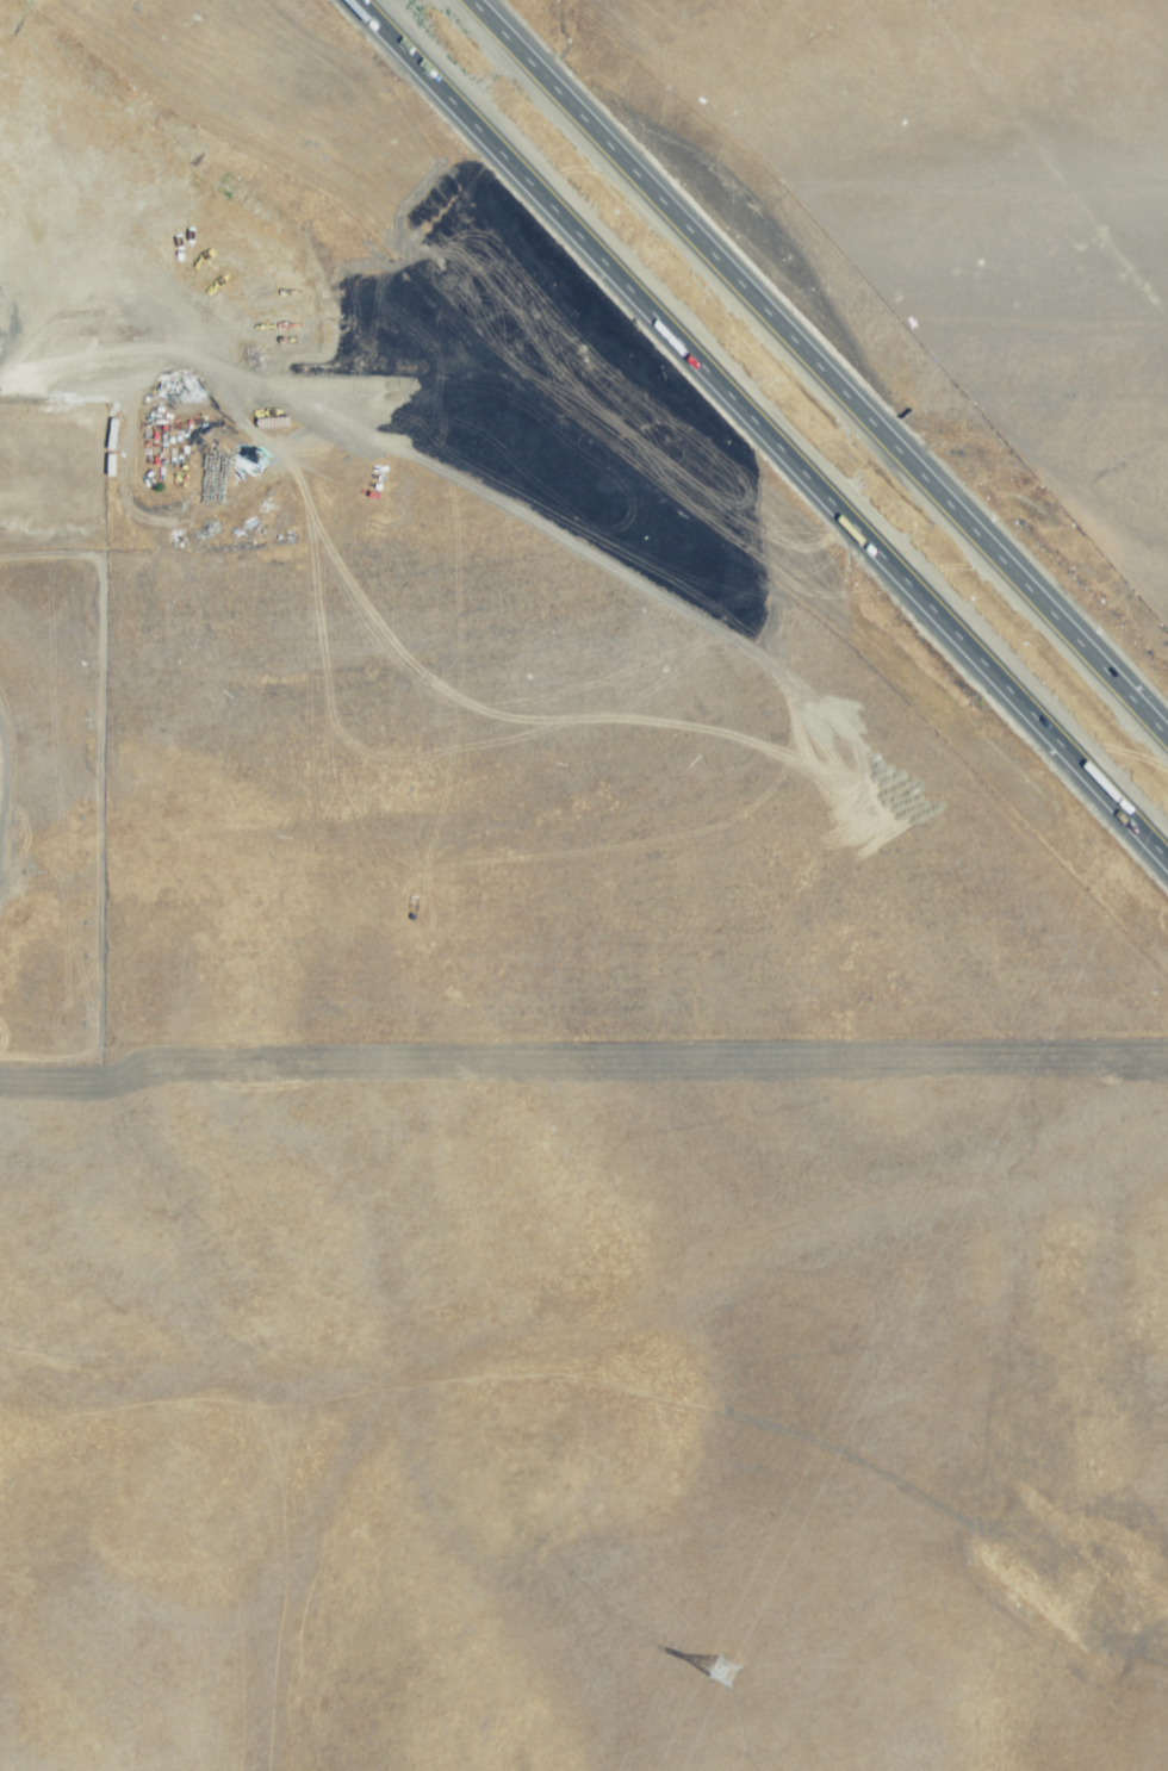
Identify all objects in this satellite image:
road: (820, 368)
road: (763, 430)
power tower: (725, 1671)

